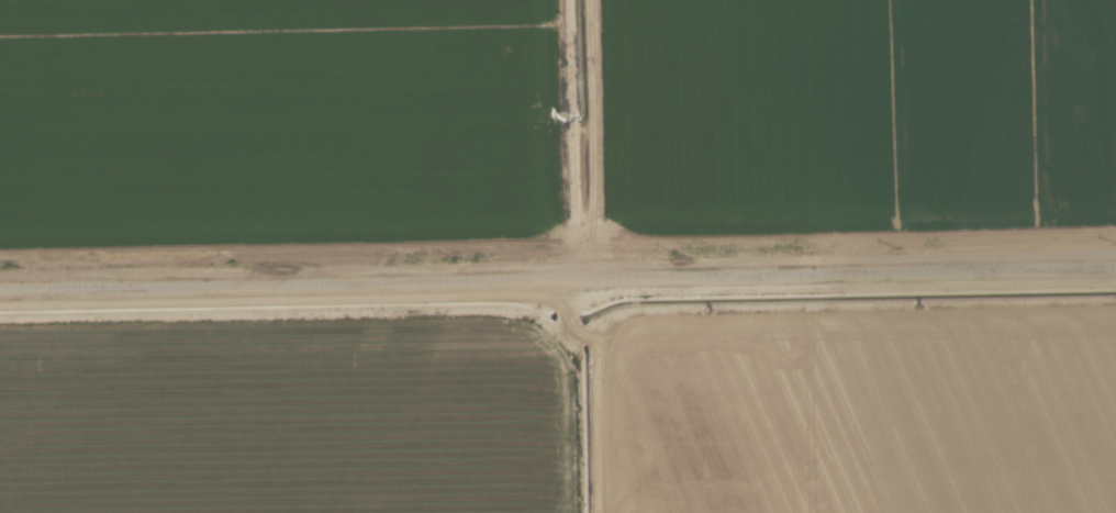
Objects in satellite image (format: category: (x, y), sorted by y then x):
road: (557, 264)

